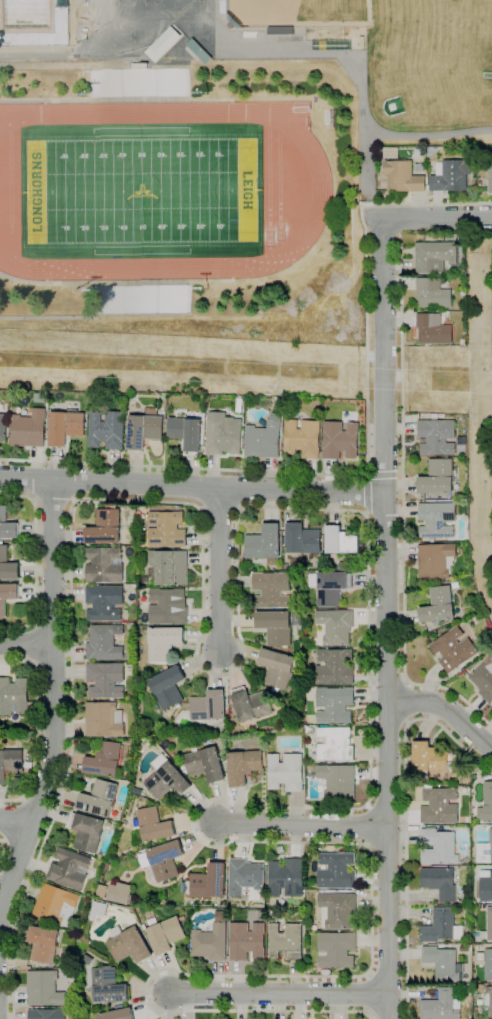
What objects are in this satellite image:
park: (107, 8)
park: (174, 8)
park: (299, 12)
park: (107, 38)
building: (164, 42)
building: (361, 43)
building: (331, 44)
building: (197, 50)
road: (35, 56)
road: (283, 58)
road: (73, 63)
building: (137, 67)
building: (139, 82)
road: (115, 100)
road: (231, 101)
road: (428, 133)
building: (431, 150)
building: (390, 153)
road: (365, 158)
building: (489, 170)
building: (450, 176)
building: (402, 177)
park: (140, 190)
track: (149, 190)
track: (320, 193)
road: (437, 216)
building: (436, 256)
road: (115, 281)
building: (432, 294)
building: (141, 298)
road: (257, 315)
road: (95, 316)
building: (433, 329)
building: (462, 342)
road: (385, 354)
building: (94, 397)
building: (280, 401)
building: (239, 404)
building: (433, 416)
building: (3, 427)
building: (66, 427)
building: (28, 429)
building: (144, 429)
building: (107, 430)
building: (186, 432)
building: (222, 434)
building: (436, 437)
building: (302, 438)
building: (262, 440)
building: (339, 440)
building: (461, 441)
road: (366, 457)
road: (35, 463)
road: (55, 463)
building: (437, 477)
road: (191, 485)
road: (361, 493)
road: (403, 495)
road: (54, 501)
road: (219, 509)
building: (436, 520)
building: (7, 524)
building: (104, 528)
road: (36, 530)
building: (166, 530)
road: (69, 536)
building: (302, 539)
building: (340, 541)
building: (263, 543)
road: (35, 560)
building: (435, 561)
building: (8, 564)
building: (104, 565)
building: (169, 567)
road: (218, 569)
road: (37, 571)
road: (69, 575)
building: (455, 585)
building: (329, 587)
building: (271, 590)
road: (36, 592)
building: (8, 596)
road: (69, 596)
building: (104, 603)
building: (438, 606)
building: (167, 607)
building: (335, 626)
building: (275, 627)
building: (441, 629)
road: (32, 642)
building: (105, 642)
building: (164, 643)
road: (26, 644)
building: (453, 649)
building: (306, 651)
road: (70, 652)
road: (16, 658)
road: (0, 661)
building: (334, 667)
building: (276, 668)
road: (70, 672)
road: (214, 674)
building: (107, 680)
building: (483, 680)
building: (169, 687)
building: (14, 696)
road: (71, 700)
road: (53, 702)
road: (412, 703)
building: (250, 704)
building: (334, 705)
building: (208, 706)
road: (447, 709)
building: (105, 720)
road: (70, 727)
building: (215, 727)
building: (309, 728)
road: (37, 742)
building: (334, 744)
road: (387, 755)
building: (30, 756)
building: (107, 759)
building: (428, 759)
road: (69, 761)
building: (11, 763)
building: (207, 764)
building: (244, 766)
building: (185, 770)
building: (285, 772)
road: (371, 780)
building: (168, 781)
building: (337, 782)
road: (62, 795)
building: (100, 798)
building: (486, 805)
building: (439, 806)
road: (55, 814)
road: (405, 818)
road: (17, 820)
road: (13, 821)
building: (112, 824)
road: (301, 824)
road: (367, 825)
building: (152, 826)
building: (88, 832)
building: (437, 846)
road: (2, 851)
building: (484, 851)
building: (166, 860)
road: (35, 864)
building: (70, 869)
road: (8, 871)
building: (337, 871)
building: (245, 876)
building: (287, 877)
building: (210, 882)
road: (27, 883)
building: (439, 883)
building: (486, 886)
building: (118, 893)
building: (54, 901)
road: (2, 902)
building: (99, 910)
building: (337, 910)
building: (222, 915)
building: (262, 915)
building: (66, 916)
building: (274, 917)
building: (442, 927)
building: (487, 927)
road: (14, 929)
building: (167, 935)
road: (371, 939)
building: (248, 940)
building: (287, 941)
building: (211, 942)
building: (44, 944)
building: (130, 944)
building: (337, 949)
road: (404, 953)
building: (443, 964)
building: (488, 964)
road: (170, 972)
road: (156, 976)
road: (191, 976)
road: (237, 976)
road: (218, 977)
road: (295, 977)
building: (478, 980)
building: (481, 984)
building: (109, 986)
building: (44, 988)
road: (148, 992)
building: (463, 992)
road: (277, 993)
road: (369, 994)
road: (413, 994)
road: (14, 997)
building: (488, 999)
road: (152, 1005)
road: (166, 1005)
road: (240, 1005)
road: (188, 1006)
road: (278, 1006)
road: (299, 1006)
road: (337, 1006)
building: (442, 1006)
building: (48, 1014)
building: (118, 1014)
road: (14, 1017)

